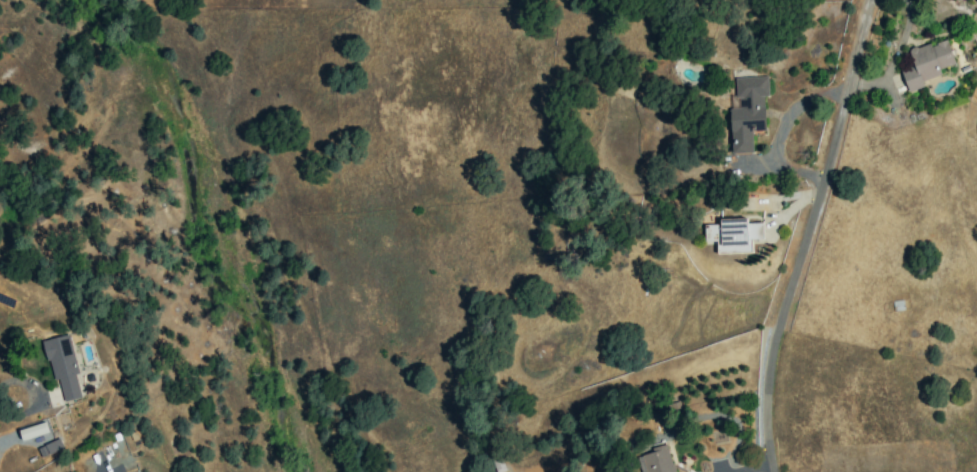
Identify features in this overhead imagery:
building: (926, 64)
building: (747, 112)
building: (732, 235)
road: (808, 235)
building: (62, 366)
building: (33, 431)
building: (49, 448)
building: (655, 461)

